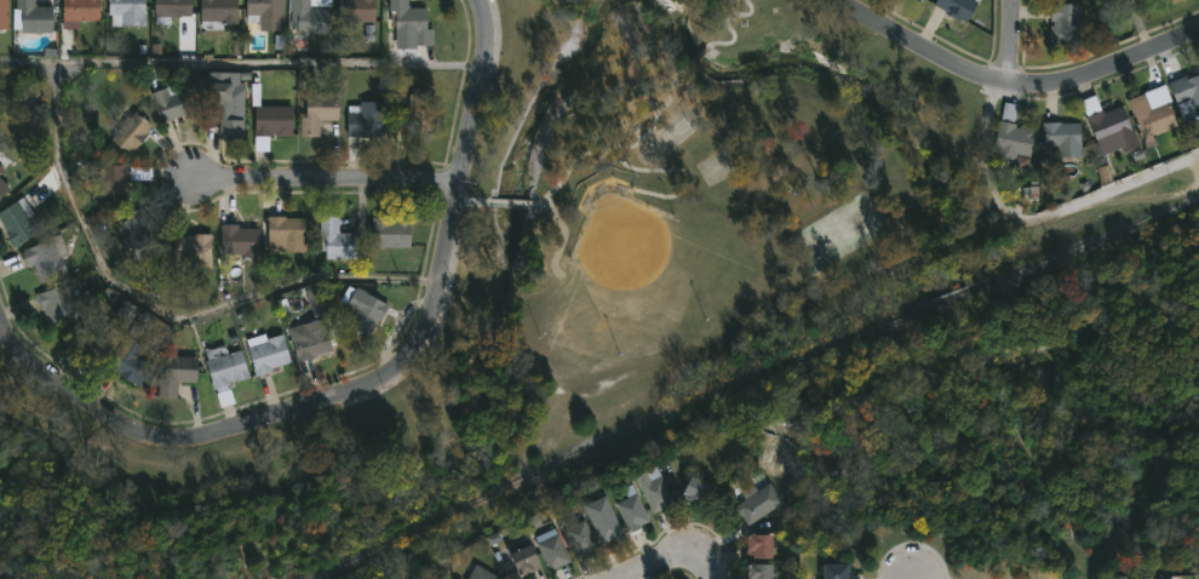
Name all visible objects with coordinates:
building: (1174, 0)
building: (957, 7)
building: (354, 10)
building: (79, 11)
building: (126, 11)
building: (172, 11)
building: (218, 11)
building: (2, 15)
building: (31, 17)
building: (266, 17)
building: (308, 17)
building: (407, 22)
building: (1065, 22)
road: (1008, 40)
road: (241, 73)
road: (1012, 81)
building: (1186, 93)
building: (172, 102)
building: (223, 107)
building: (1050, 110)
building: (317, 113)
building: (414, 115)
building: (1151, 116)
building: (366, 119)
building: (271, 120)
building: (1108, 126)
building: (128, 128)
building: (1010, 136)
building: (1062, 137)
building: (1, 168)
building: (111, 183)
building: (2, 187)
road: (328, 188)
road: (1035, 218)
building: (17, 222)
building: (391, 231)
building: (138, 233)
building: (286, 233)
building: (335, 239)
railway: (1095, 239)
building: (237, 240)
building: (191, 250)
building: (46, 258)
park: (557, 282)
railway: (957, 294)
building: (58, 304)
building: (316, 306)
building: (363, 310)
building: (125, 314)
road: (163, 320)
building: (310, 338)
building: (98, 339)
building: (266, 352)
building: (130, 362)
building: (224, 367)
building: (178, 371)
road: (369, 386)
railway: (613, 435)
building: (654, 489)
building: (693, 491)
building: (756, 503)
building: (630, 509)
building: (602, 520)
building: (576, 537)
building: (757, 546)
building: (551, 550)
building: (522, 558)
road: (666, 560)
road: (711, 568)
building: (757, 572)
building: (836, 572)
building: (480, 573)

